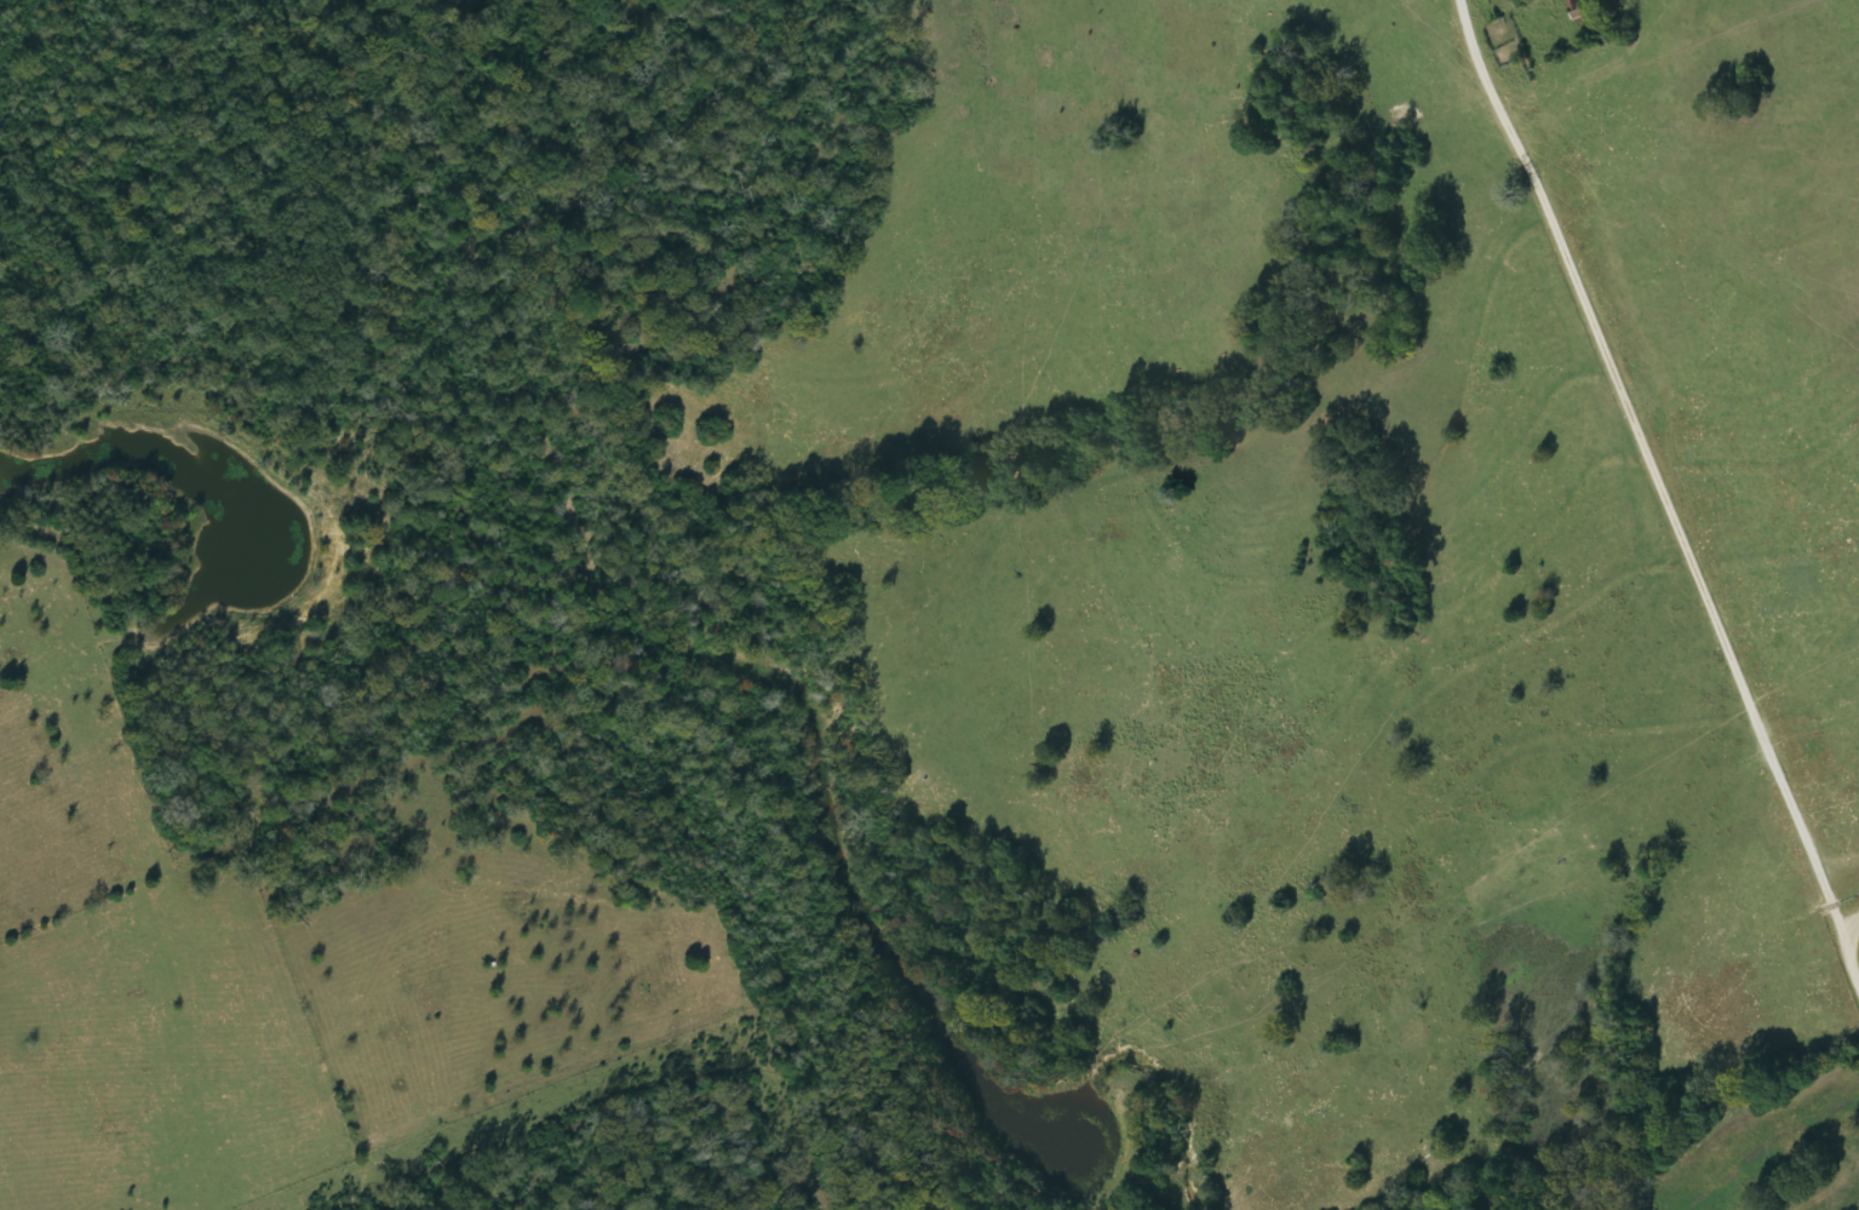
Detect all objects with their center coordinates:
road: (1653, 474)
road: (1848, 947)

